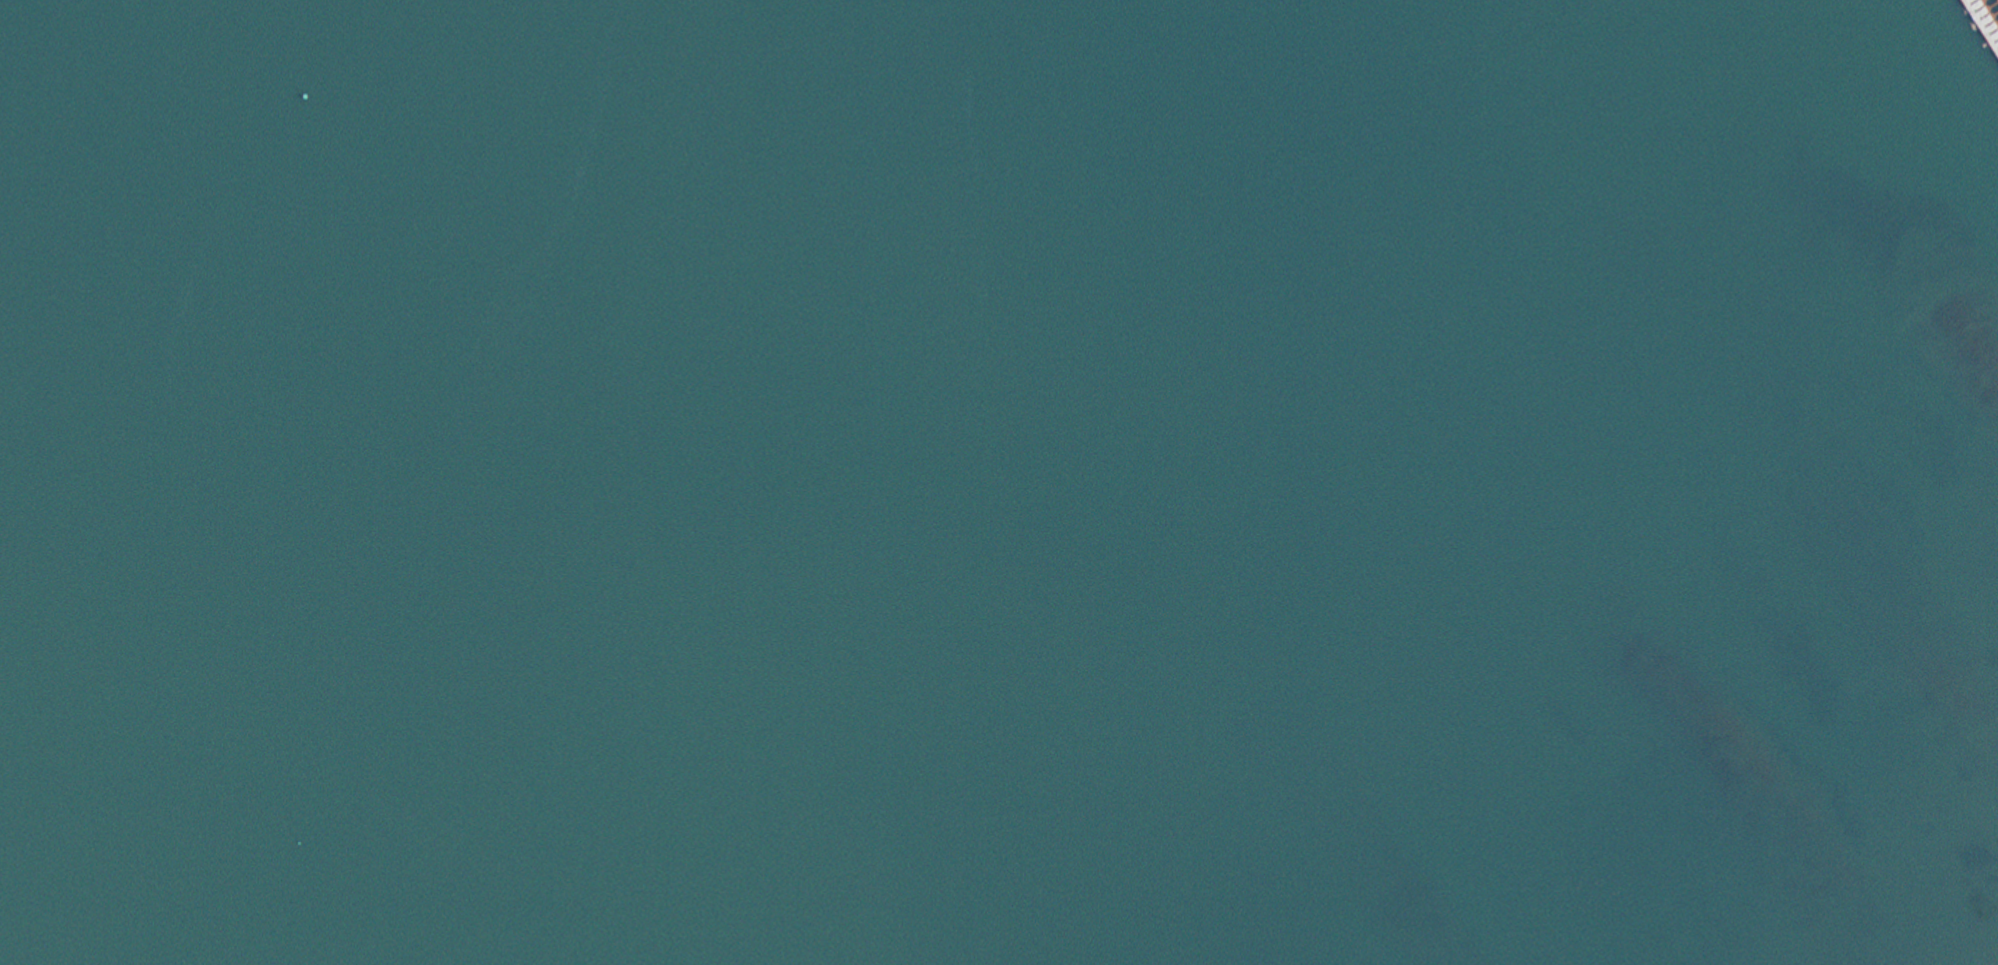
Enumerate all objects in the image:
park: (1985, 19)

